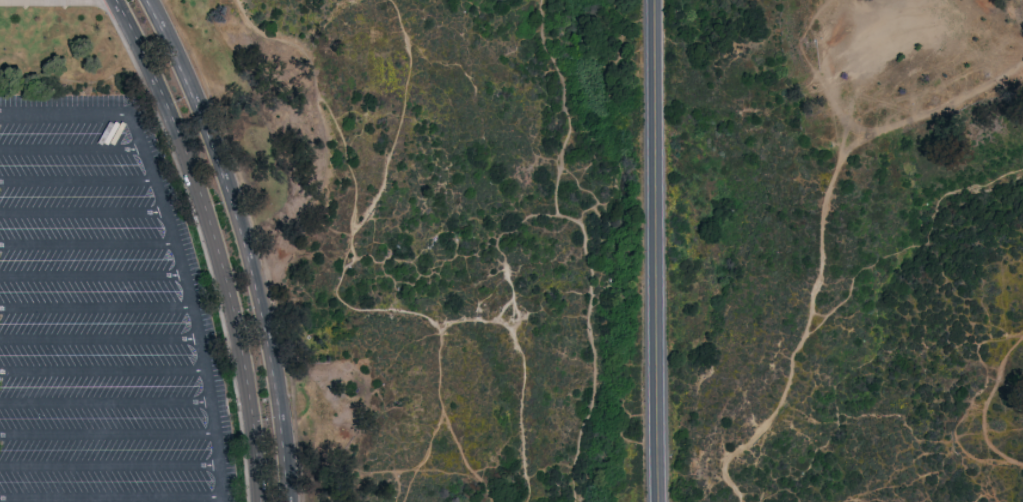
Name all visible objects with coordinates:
road: (50, 1)
road: (324, 98)
road: (928, 107)
road: (563, 108)
road: (73, 148)
road: (79, 181)
road: (370, 206)
road: (85, 212)
road: (177, 240)
road: (202, 242)
road: (217, 242)
road: (242, 243)
road: (89, 246)
road: (908, 249)
park: (511, 251)
road: (658, 251)
road: (94, 277)
road: (509, 282)
road: (97, 311)
parking lot: (103, 315)
road: (587, 321)
road: (797, 342)
road: (100, 343)
road: (103, 373)
road: (524, 377)
road: (105, 406)
road: (985, 407)
road: (449, 426)
road: (108, 437)
road: (418, 461)
road: (109, 468)
road: (161, 501)

